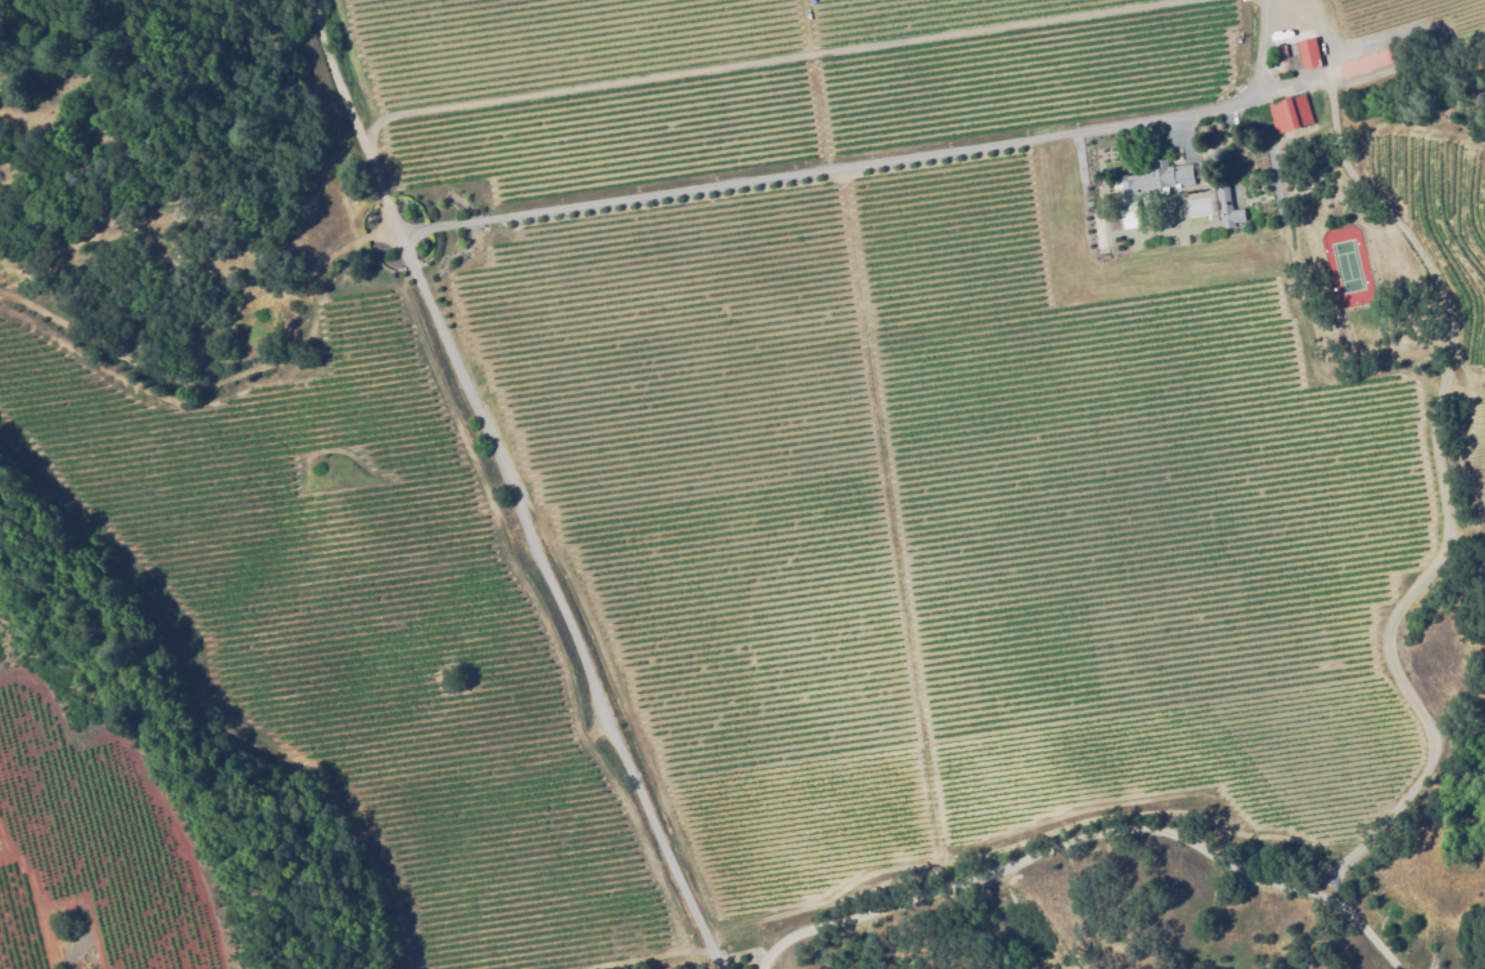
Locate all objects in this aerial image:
building: (1305, 52)
road: (749, 58)
building: (1284, 59)
building: (1372, 62)
building: (1280, 114)
building: (1209, 130)
road: (903, 152)
building: (1199, 170)
building: (1153, 181)
building: (1224, 207)
building: (1131, 220)
road: (508, 486)
road: (1087, 835)

